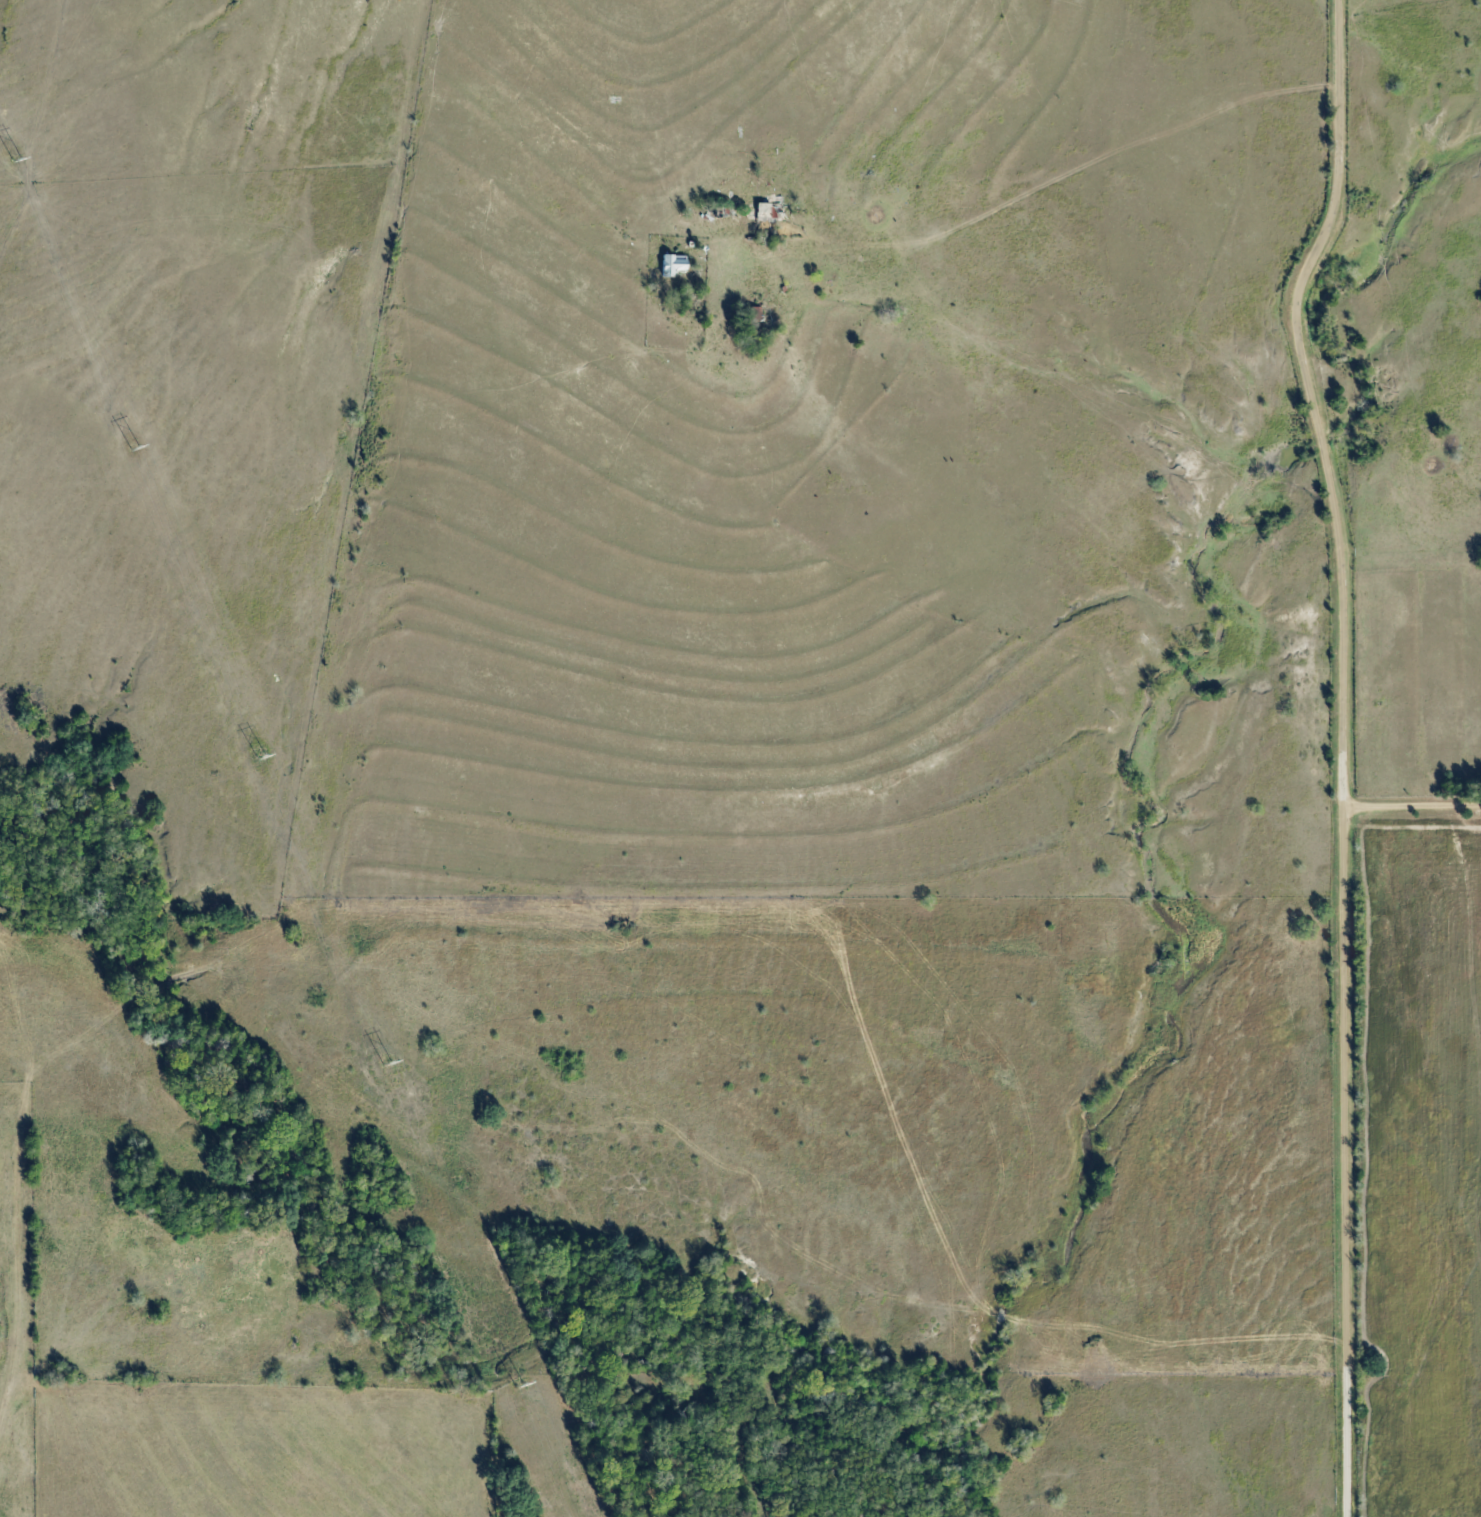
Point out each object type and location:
power tower: (15, 161)
road: (1052, 174)
building: (766, 212)
building: (673, 265)
power tower: (133, 449)
road: (1340, 670)
power tower: (259, 758)
road: (1410, 795)
power tower: (386, 1065)
power tower: (517, 1387)
road: (1350, 1437)

